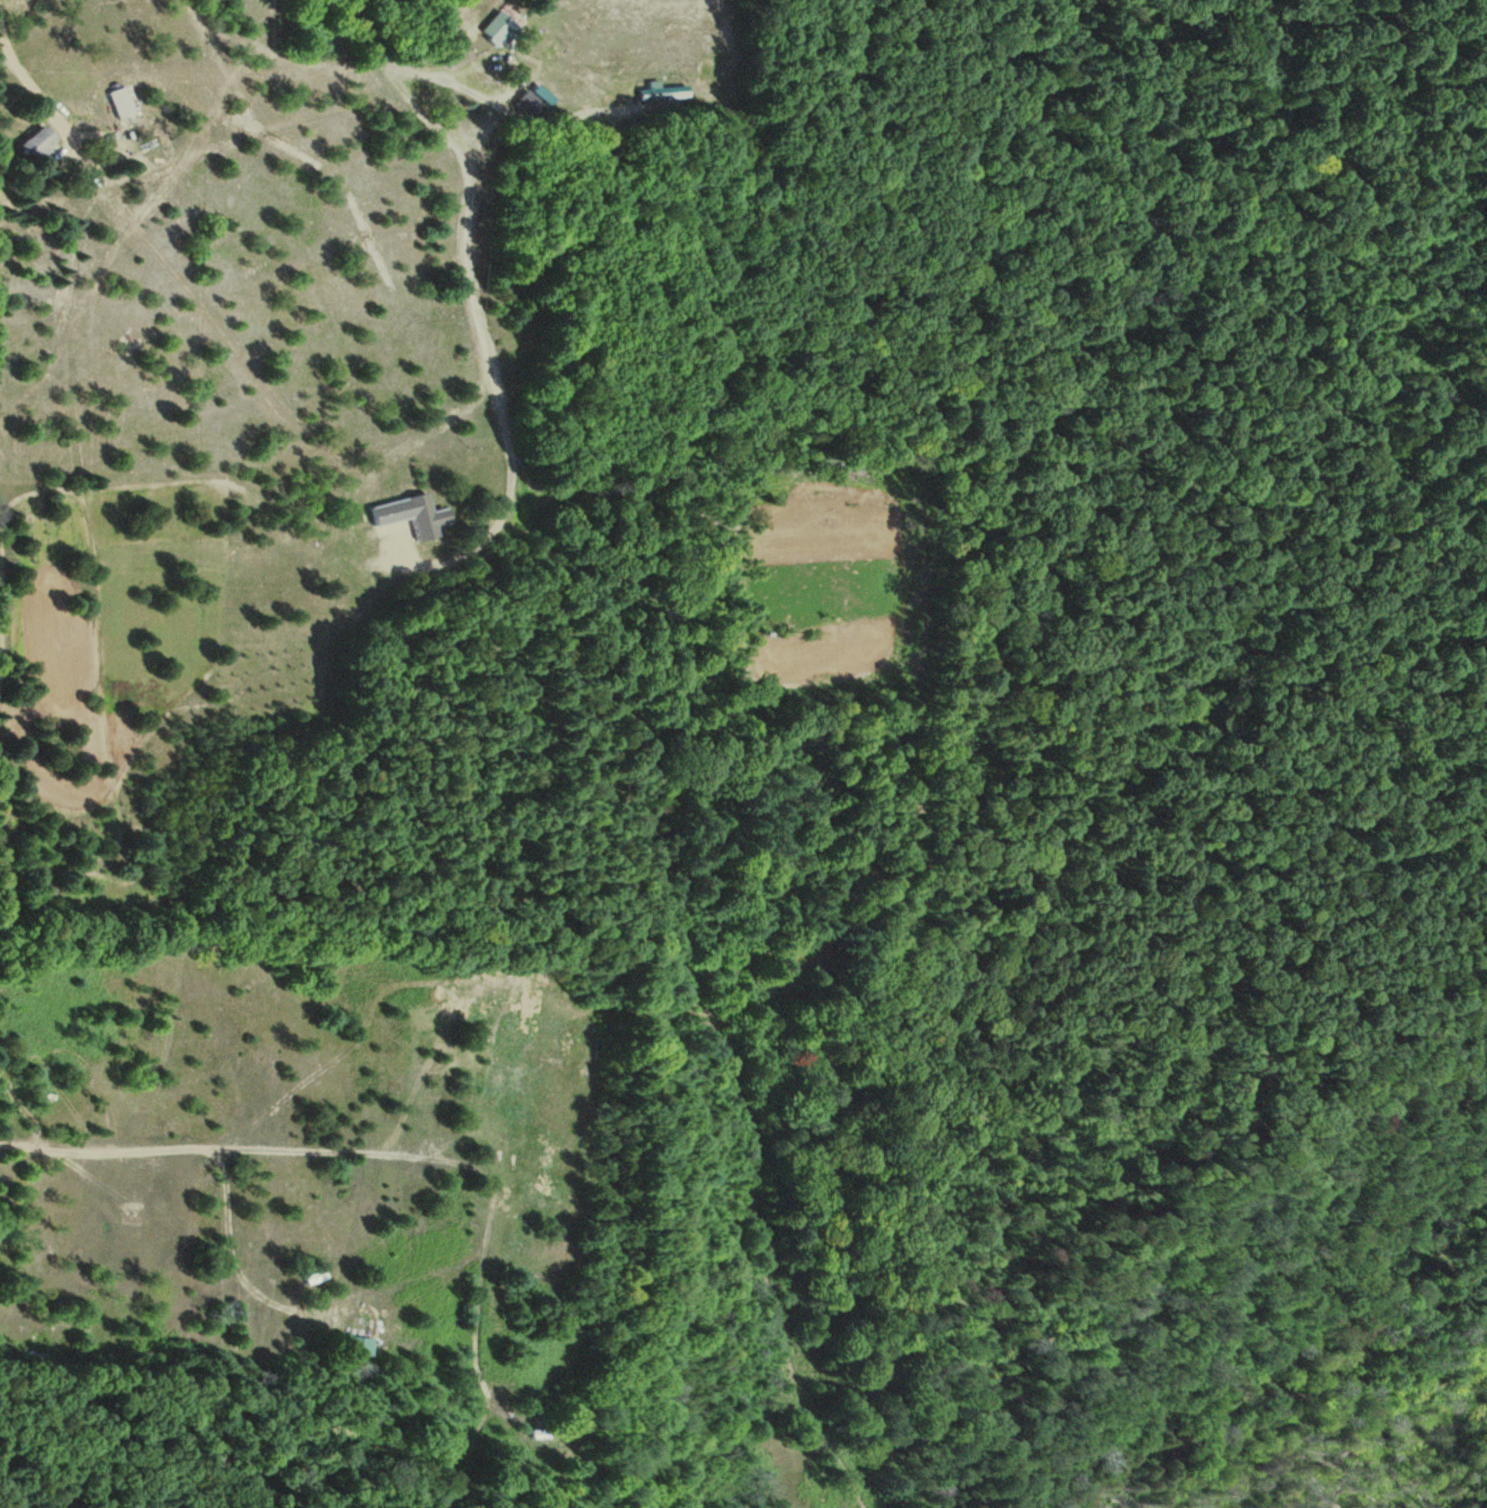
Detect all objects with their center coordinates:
building: (496, 29)
building: (534, 101)
building: (121, 103)
building: (34, 143)
building: (408, 515)
building: (324, 681)
building: (360, 1346)
road: (196, 1362)
building: (546, 1432)

